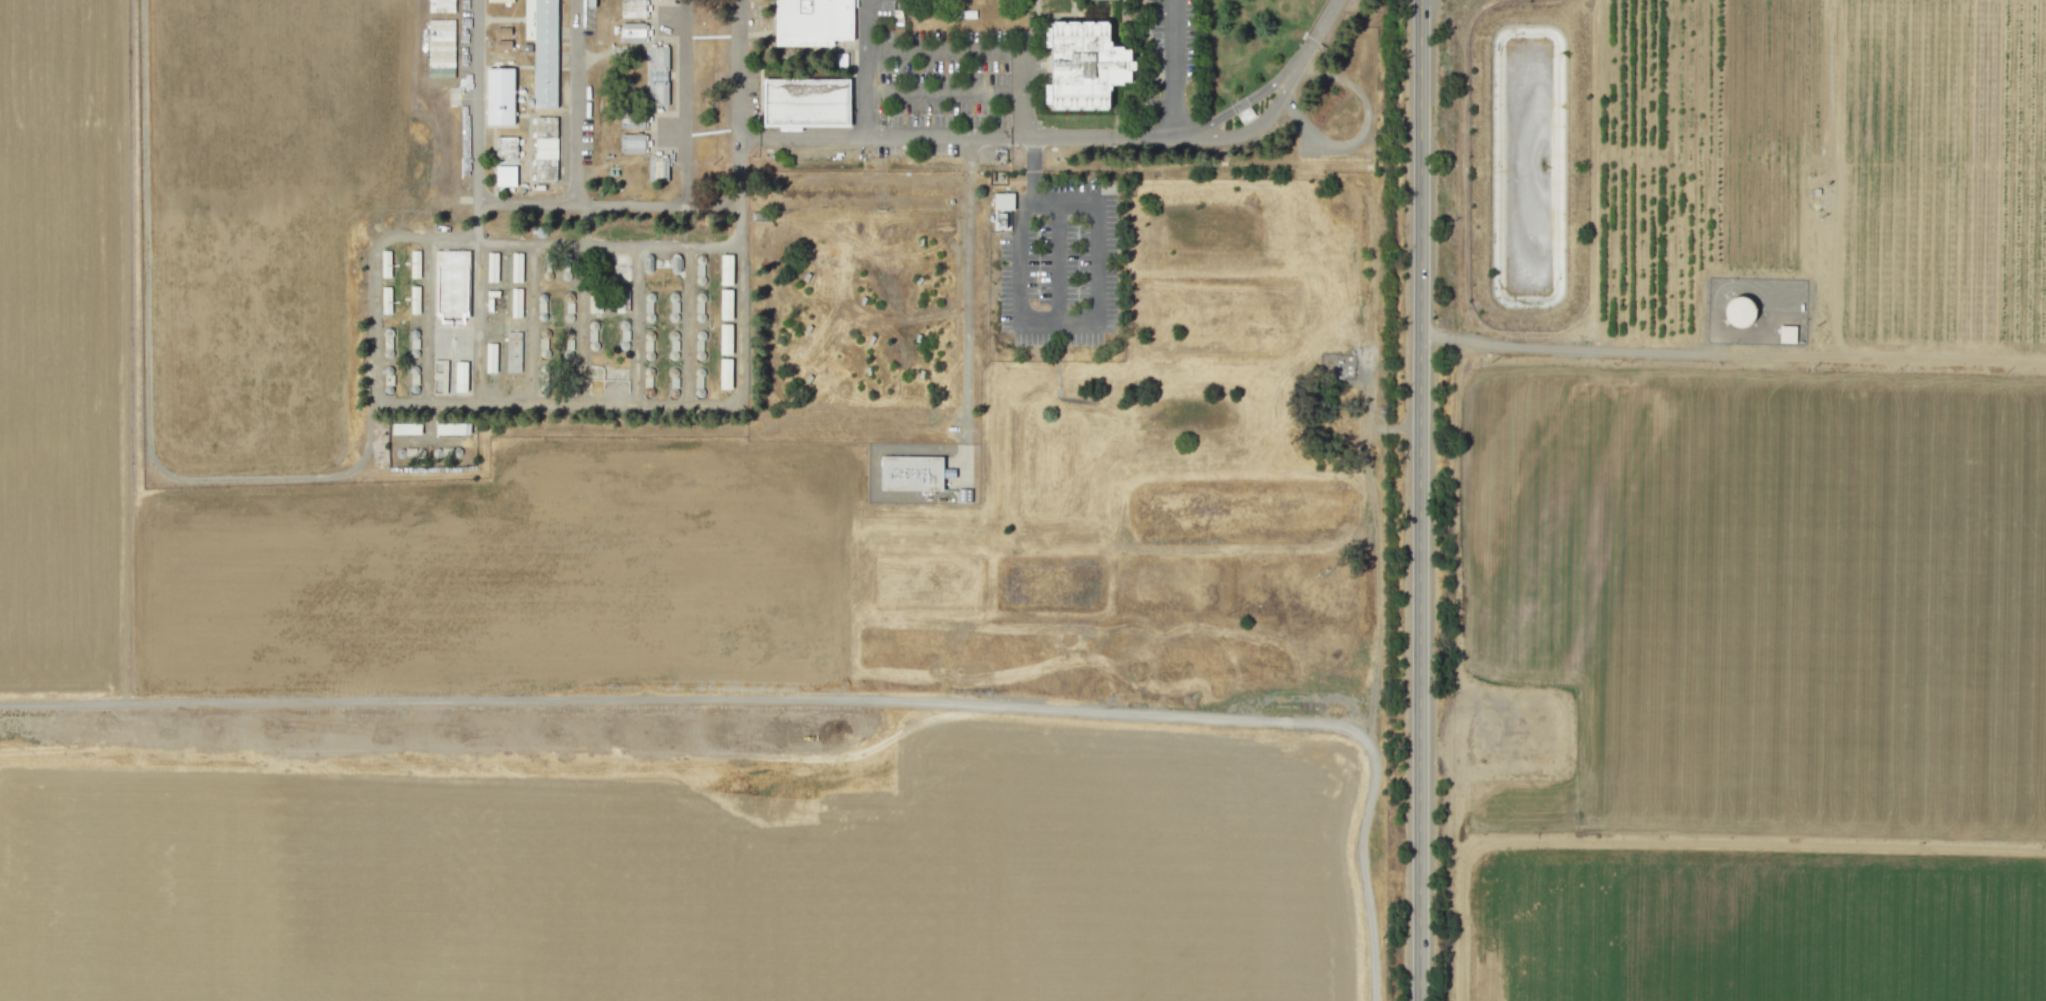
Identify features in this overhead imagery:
building: (441, 5)
building: (637, 8)
building: (816, 21)
building: (503, 31)
building: (636, 33)
building: (503, 44)
parking lot: (1174, 46)
building: (546, 48)
road: (935, 52)
building: (661, 57)
road: (1302, 61)
building: (1087, 66)
road: (868, 67)
road: (1175, 67)
road: (1029, 86)
parking lot: (934, 91)
road: (935, 93)
building: (661, 94)
road: (476, 100)
building: (503, 101)
road: (577, 101)
road: (686, 102)
building: (803, 103)
building: (637, 118)
building: (549, 127)
road: (1213, 128)
road: (956, 135)
road: (1359, 137)
building: (636, 143)
building: (510, 148)
building: (661, 168)
road: (1031, 168)
building: (551, 170)
building: (509, 176)
road: (737, 198)
building: (1003, 200)
road: (1063, 201)
road: (606, 202)
road: (1057, 260)
parking lot: (1060, 262)
building: (385, 263)
building: (414, 263)
road: (966, 265)
building: (491, 267)
building: (516, 267)
building: (726, 269)
building: (455, 284)
building: (414, 297)
building: (386, 299)
building: (516, 302)
building: (726, 304)
building: (1740, 311)
storage tank: (1740, 311)
road: (375, 317)
road: (1054, 319)
road: (579, 323)
building: (1786, 334)
building: (725, 338)
building: (513, 346)
road: (1732, 353)
building: (490, 357)
road: (148, 373)
building: (725, 373)
building: (460, 376)
building: (405, 428)
building: (452, 428)
building: (914, 473)
road: (1420, 500)
road: (815, 698)
road: (1749, 843)

